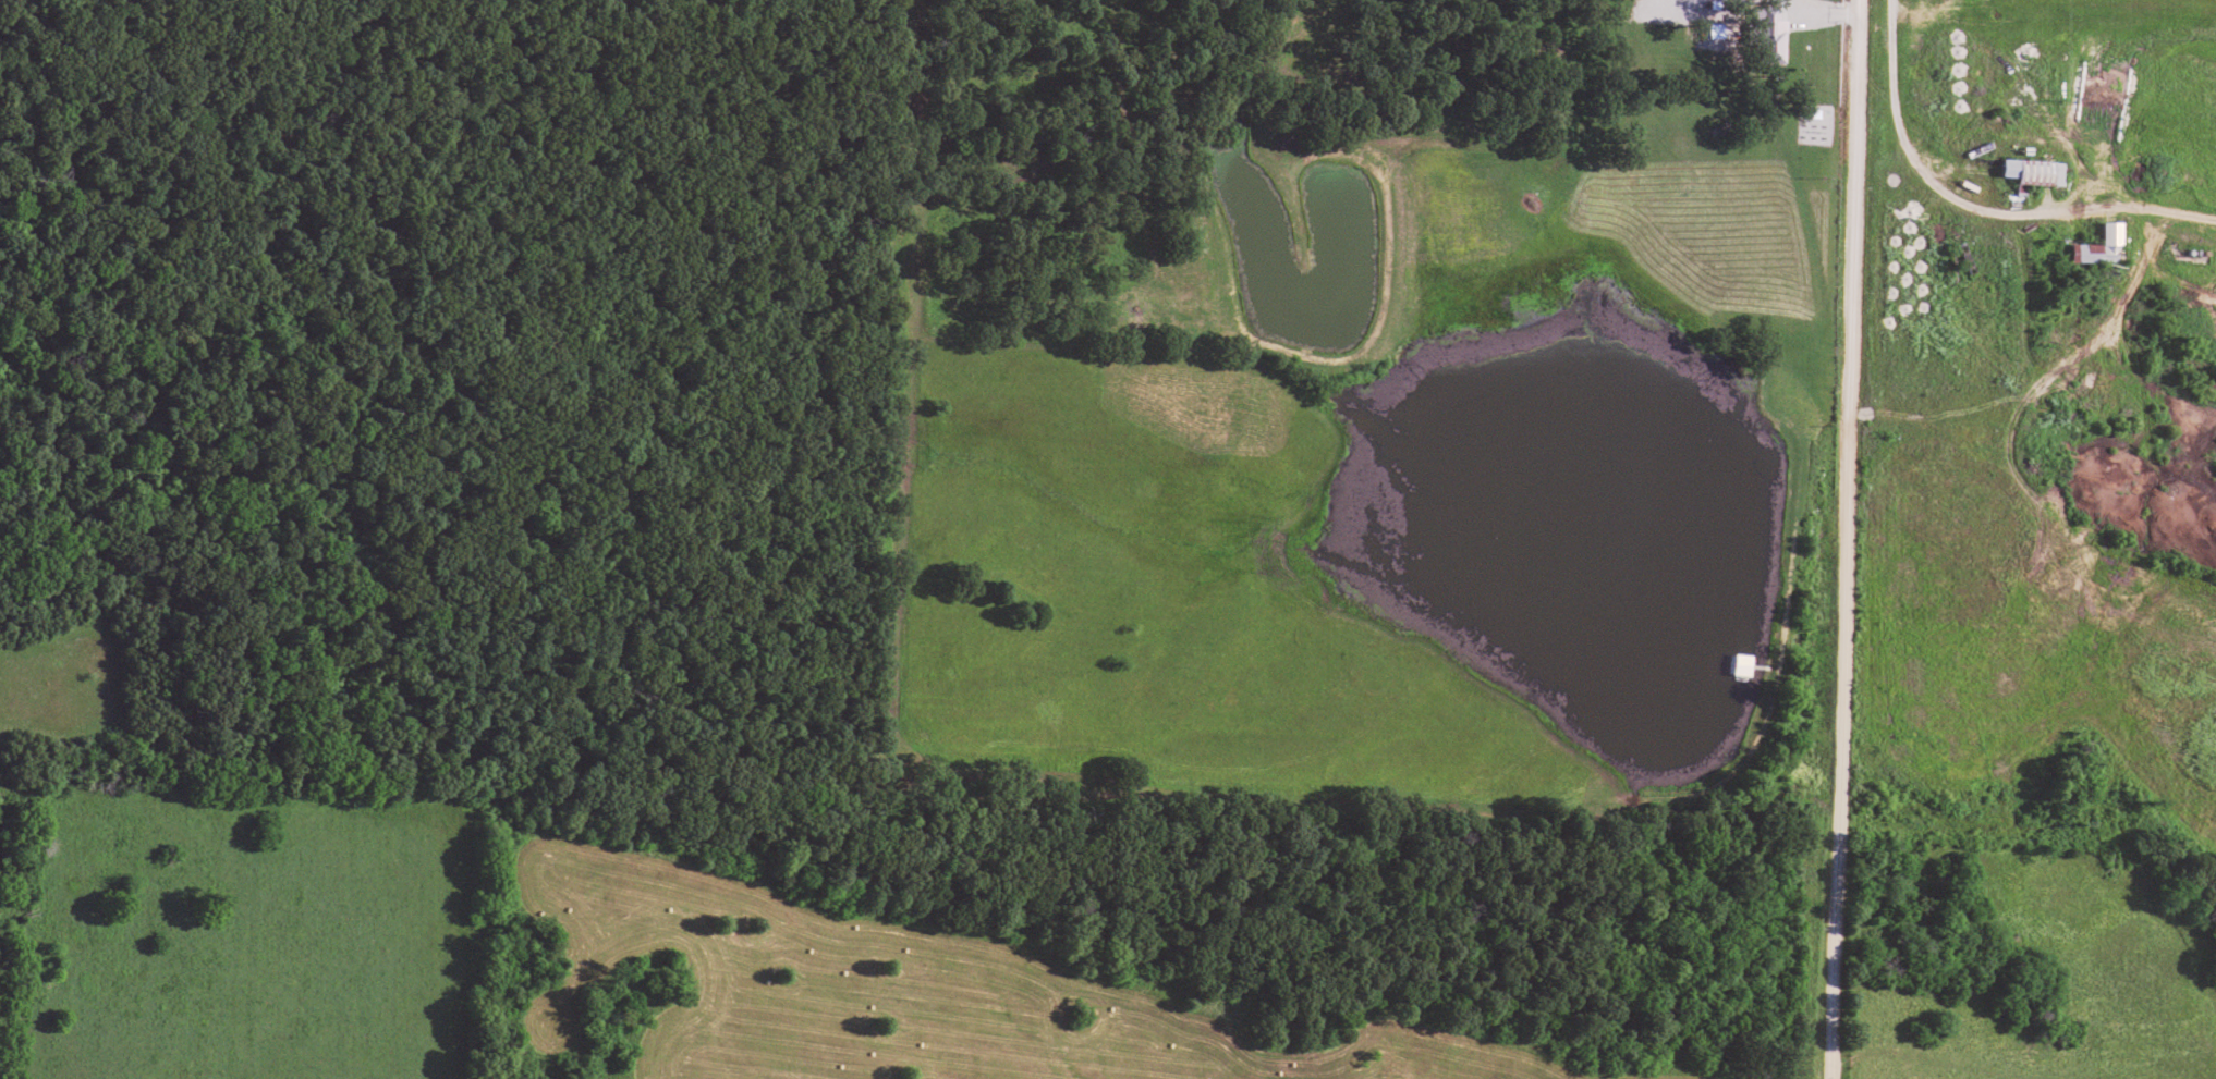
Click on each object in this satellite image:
building: (1767, 30)
building: (2032, 170)
road: (1976, 205)
building: (2099, 244)
road: (1846, 539)

